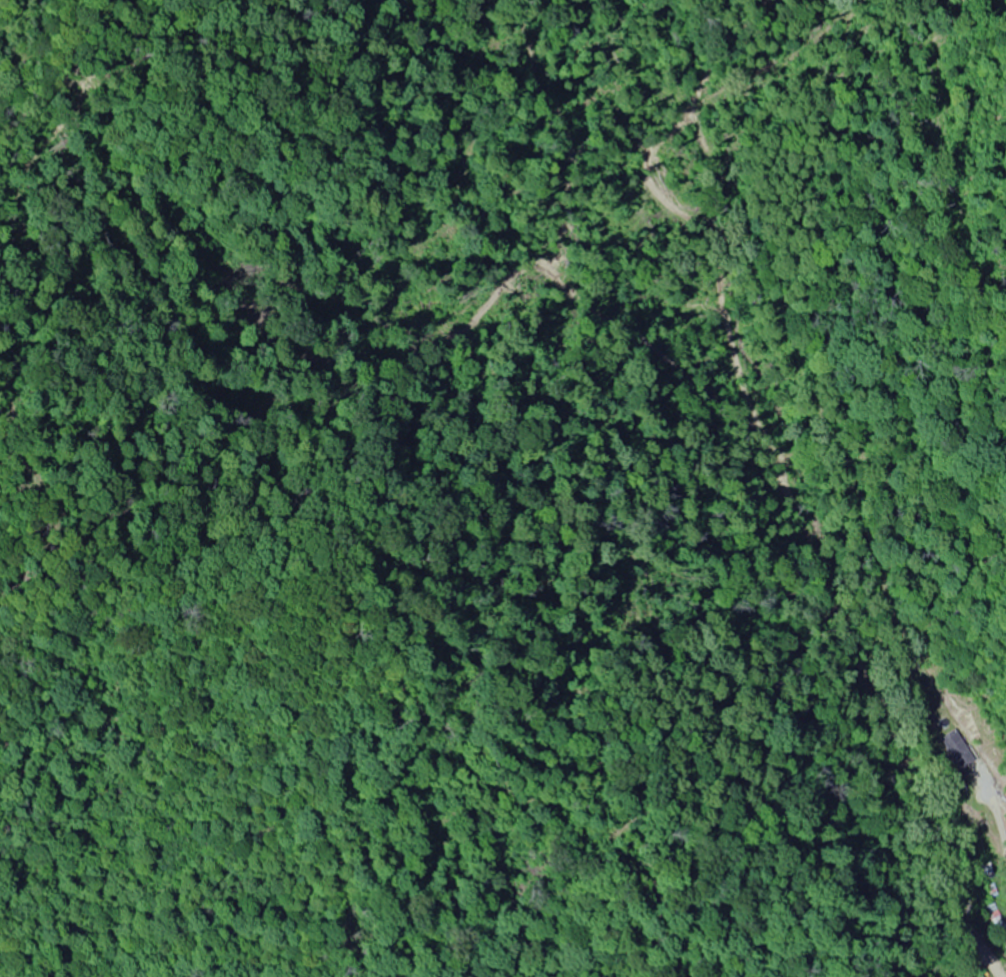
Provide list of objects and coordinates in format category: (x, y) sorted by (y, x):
building: (914, 661)
building: (956, 750)
building: (999, 914)

